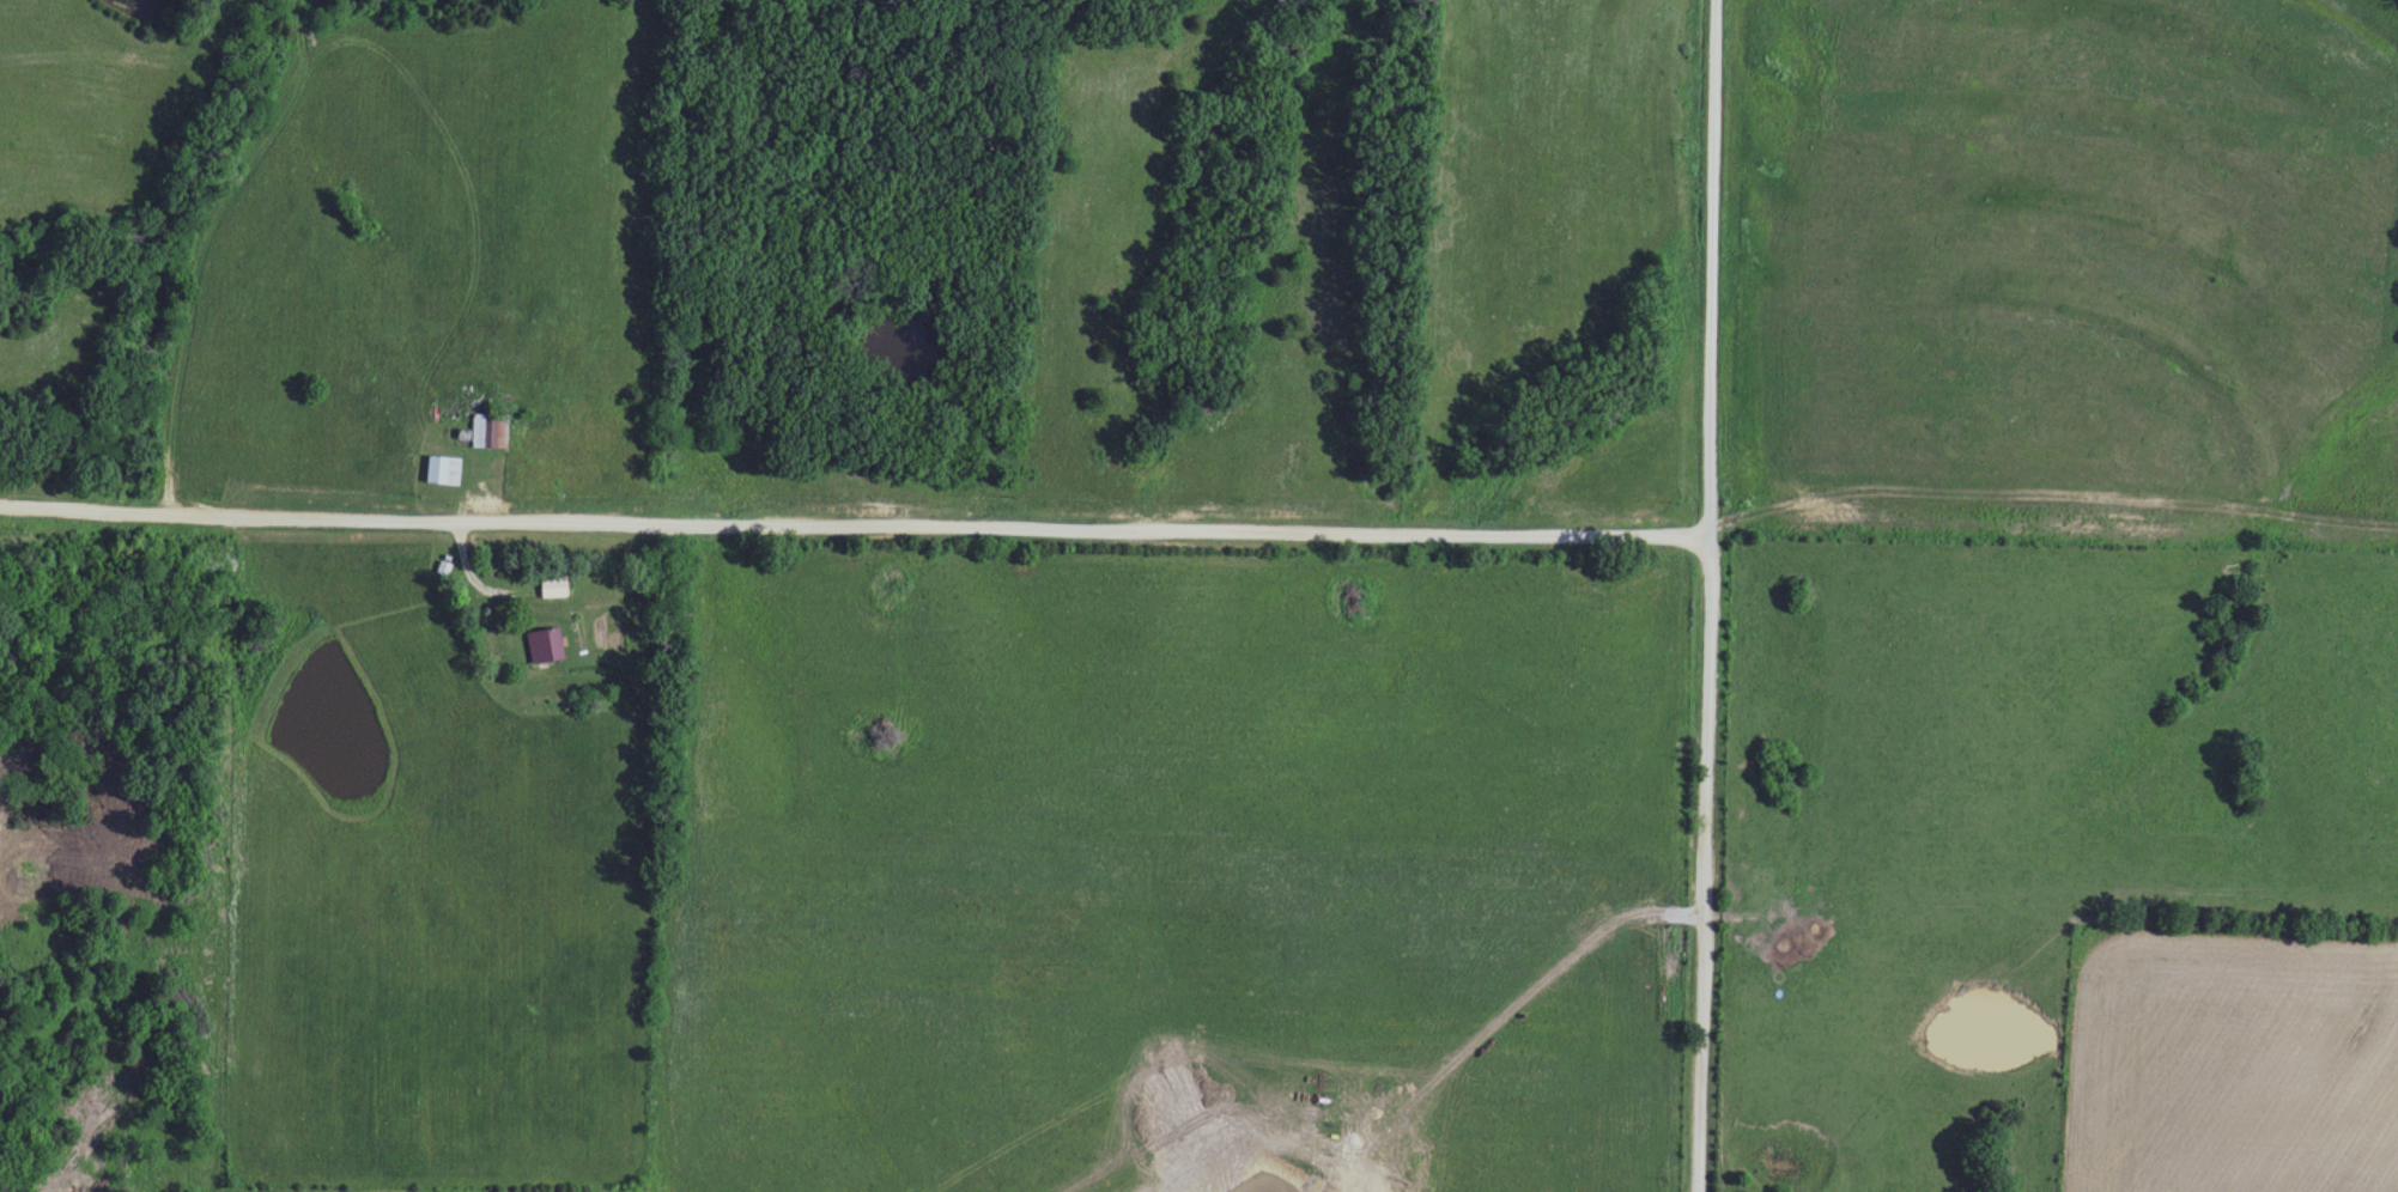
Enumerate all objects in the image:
building: (486, 431)
building: (438, 472)
road: (852, 524)
building: (550, 586)
road: (1706, 596)
building: (540, 645)

